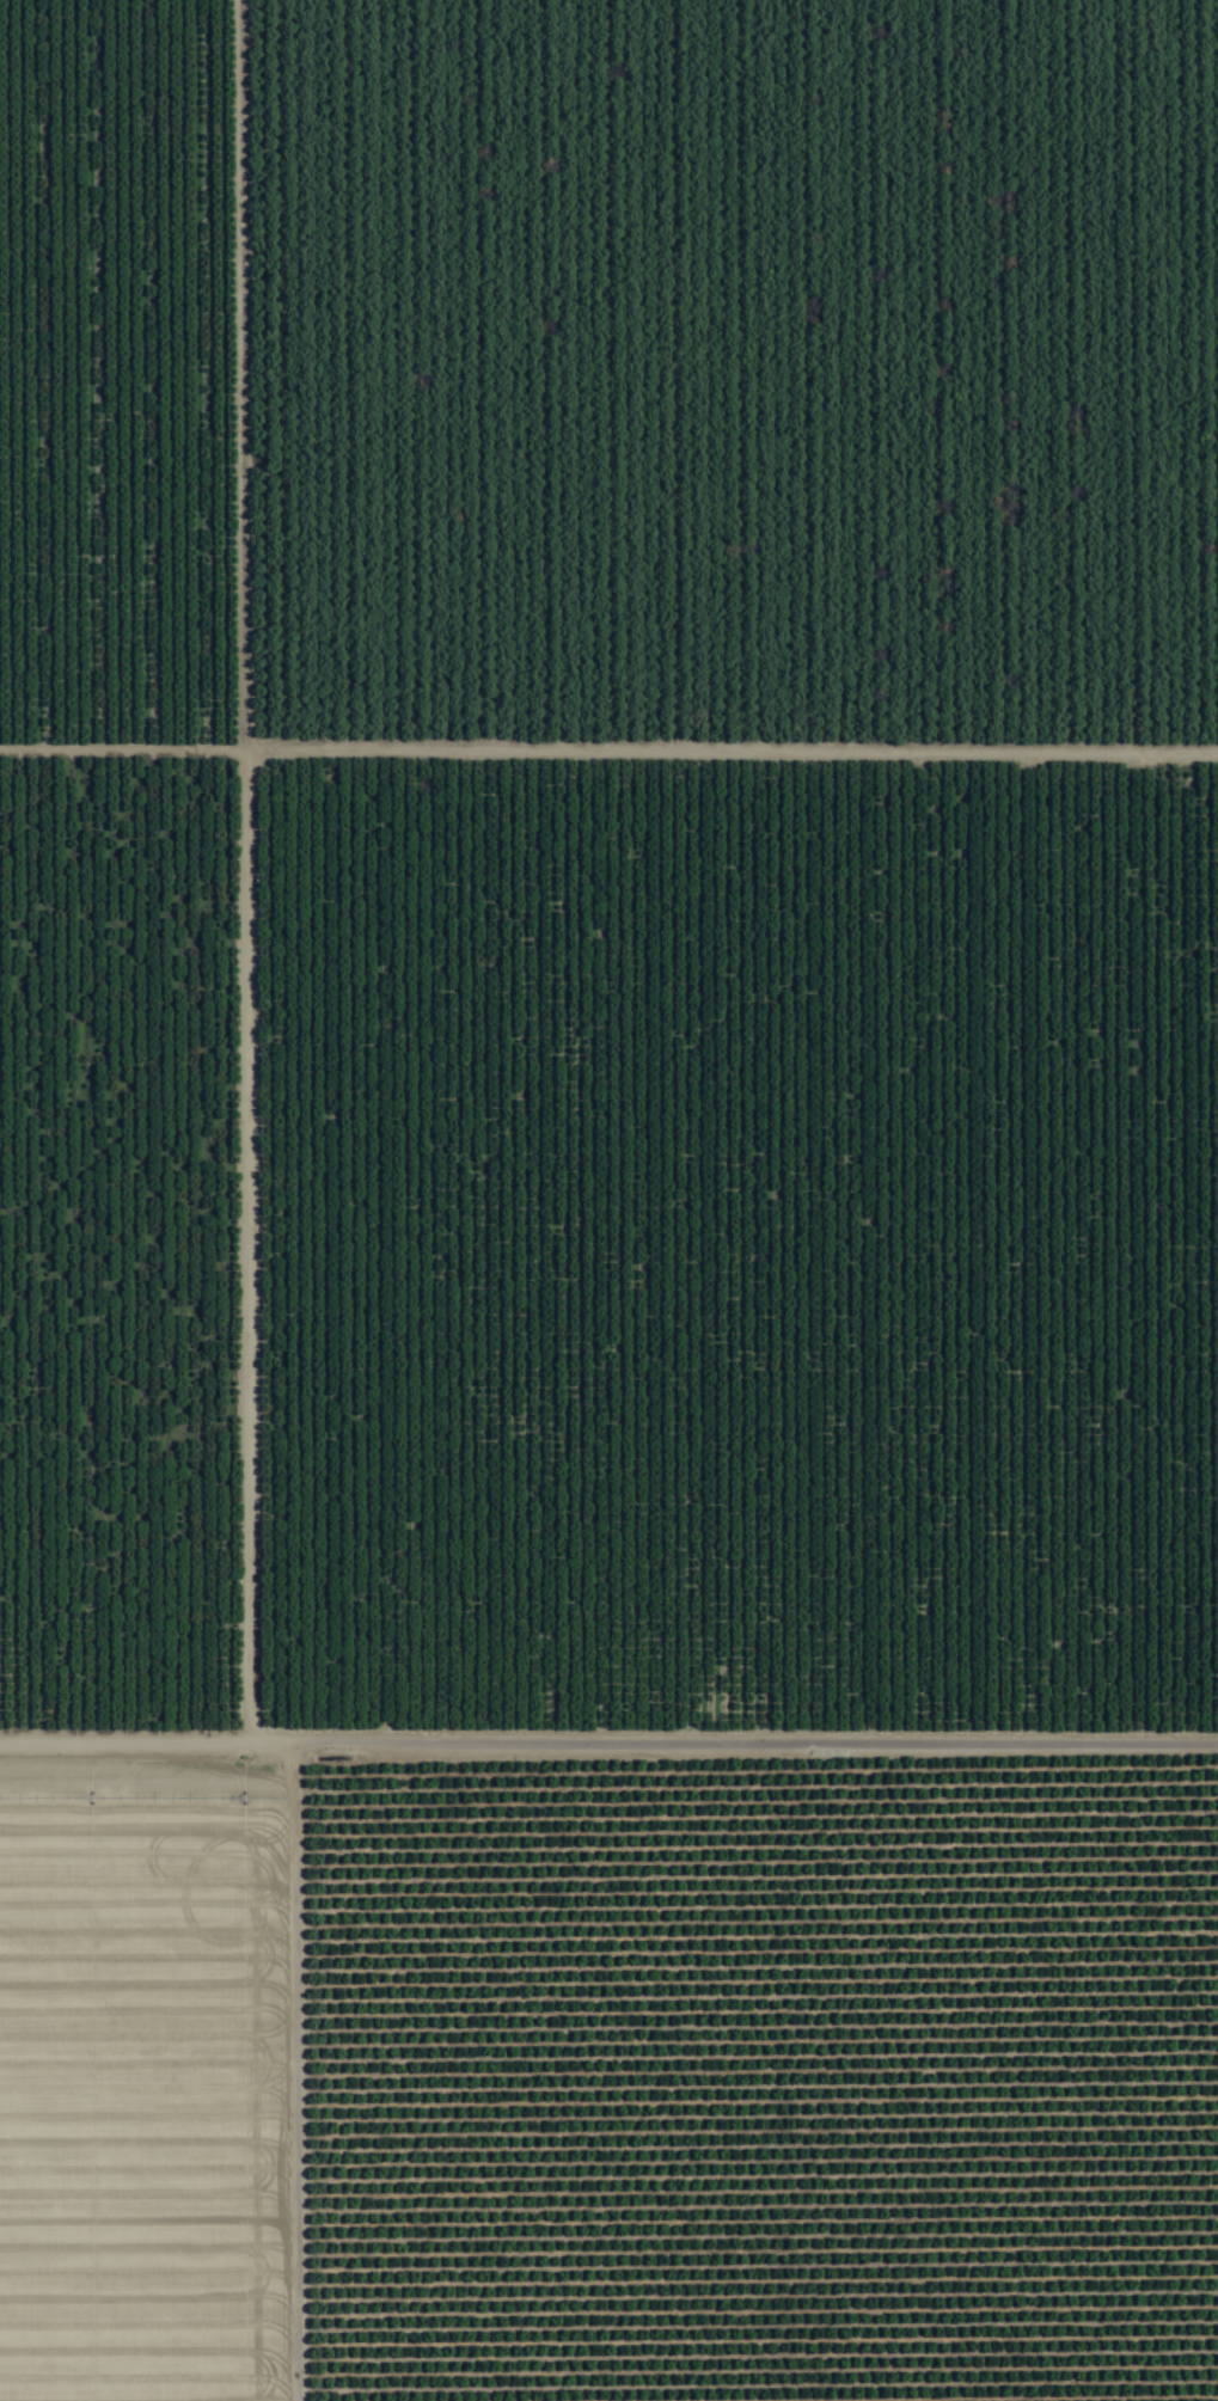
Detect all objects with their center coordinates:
crop: (608, 1200)
road: (608, 1720)
road: (250, 2060)

